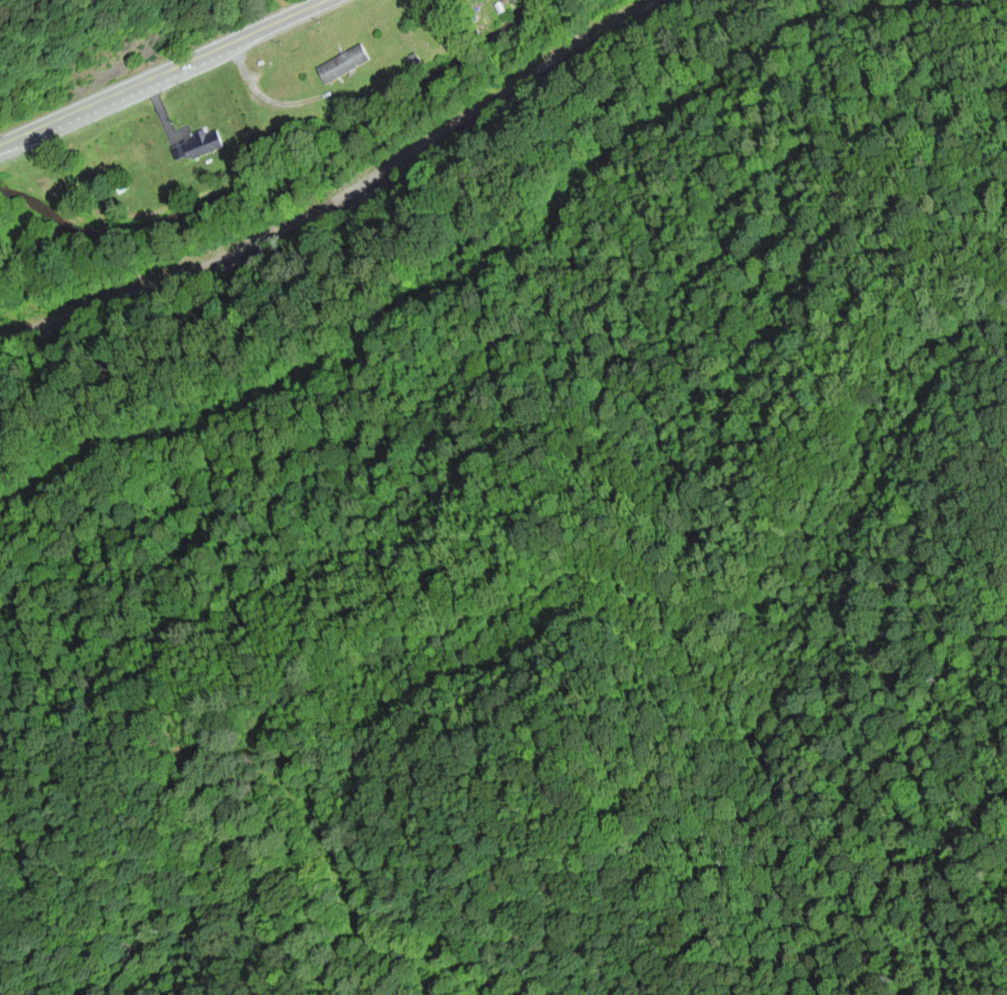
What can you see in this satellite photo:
building: (346, 65)
road: (161, 72)
building: (204, 146)
railway: (351, 198)

